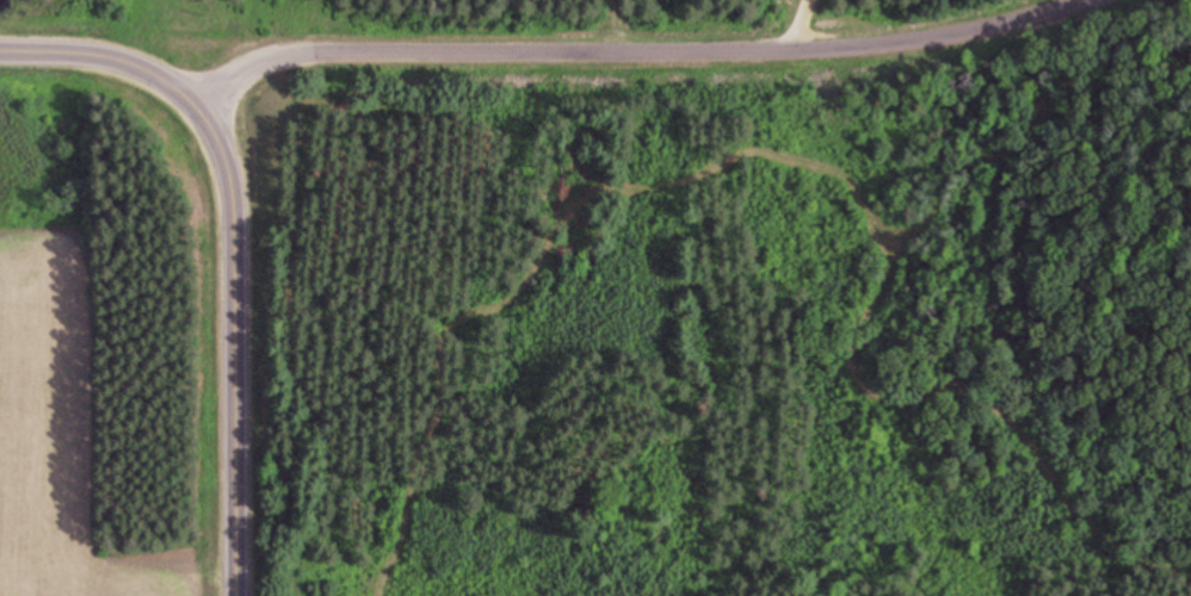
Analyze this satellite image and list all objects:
road: (801, 19)
road: (617, 44)
road: (234, 242)
crop: (58, 432)

